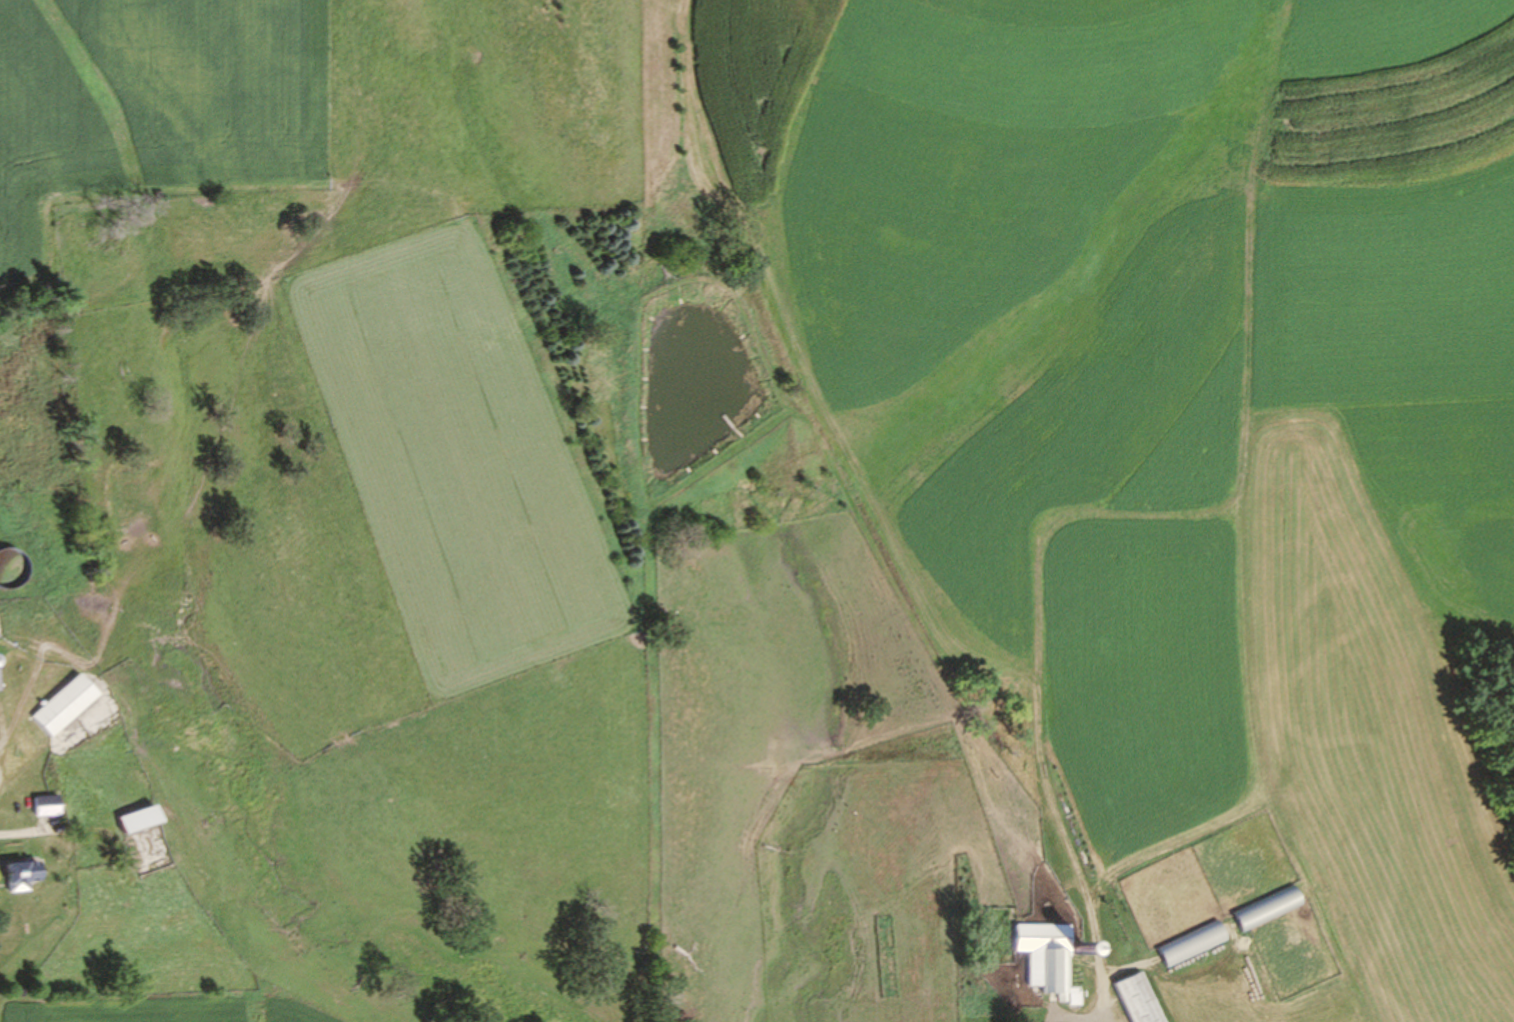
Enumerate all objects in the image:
building: (57, 705)
building: (39, 806)
building: (130, 819)
building: (14, 875)
building: (1261, 909)
building: (1185, 945)
building: (1041, 959)
road: (1100, 997)
building: (1132, 998)

